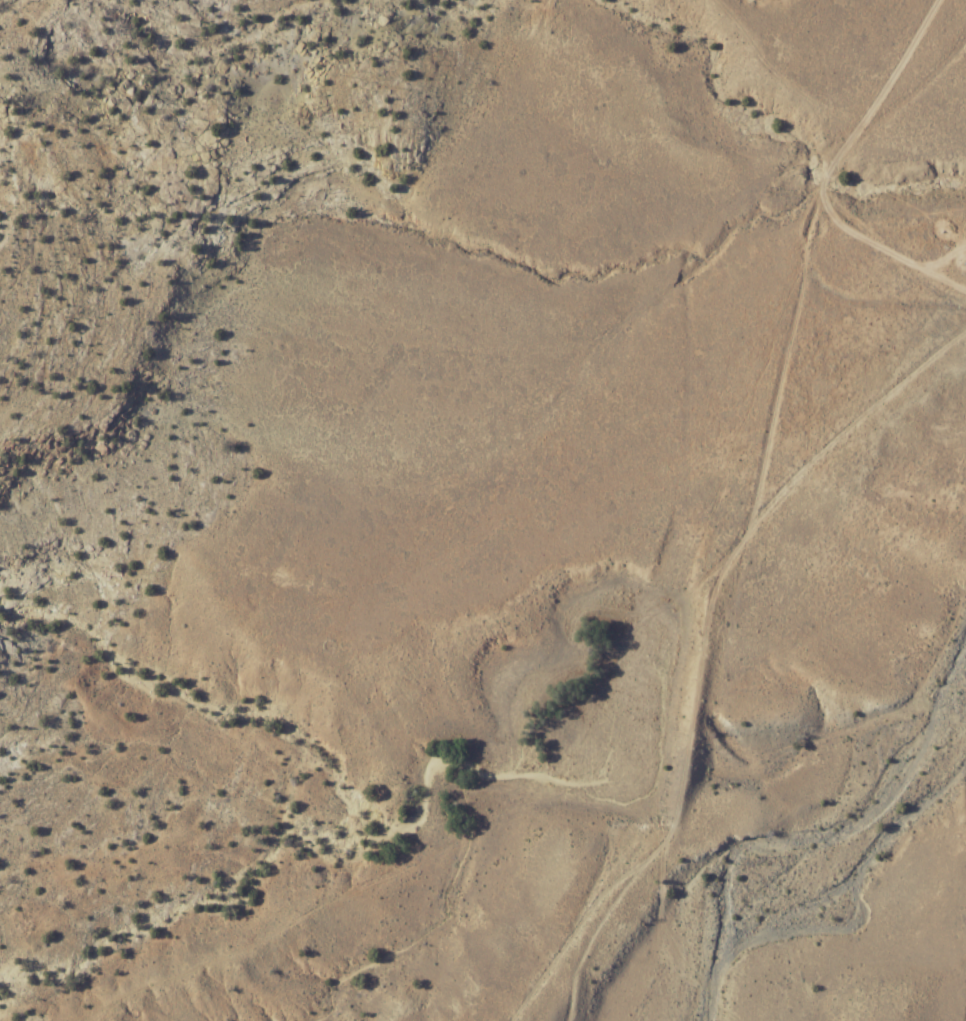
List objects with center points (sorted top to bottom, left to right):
road: (831, 169)
road: (701, 651)
river: (816, 846)
road: (513, 1020)
road: (514, 1020)

